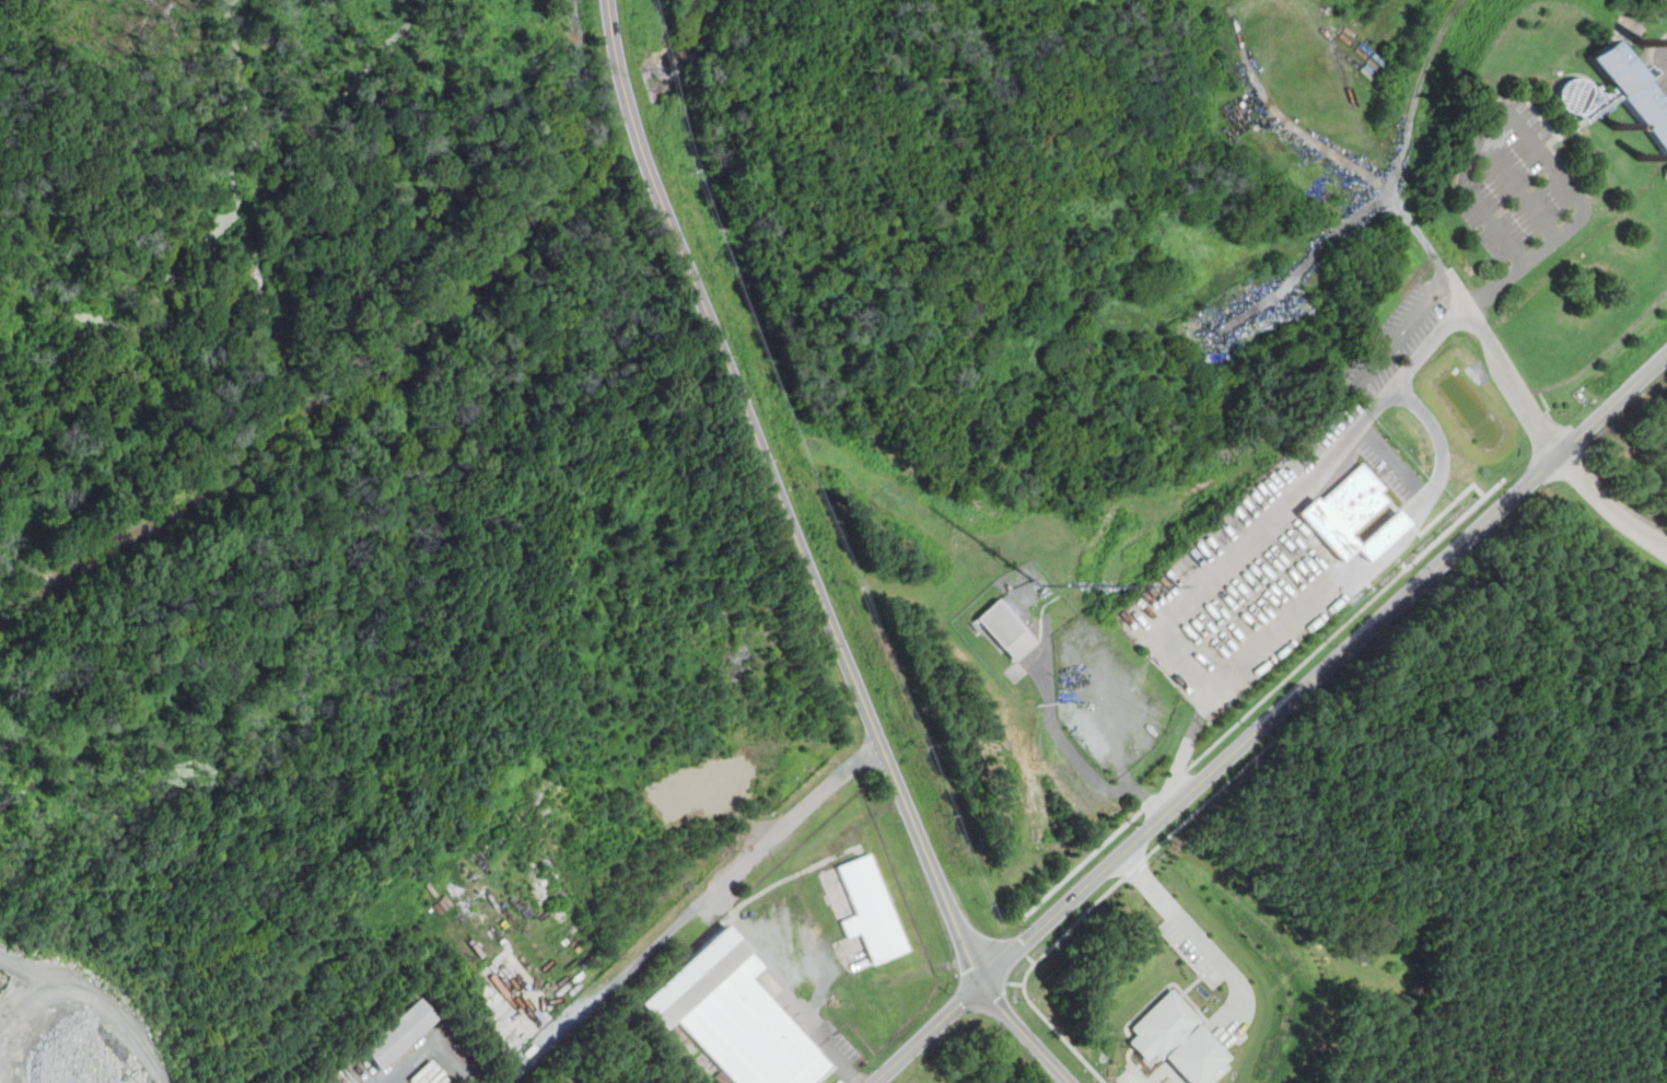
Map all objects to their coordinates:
chimney: (1643, 39)
river: (696, 48)
building: (1617, 93)
road: (1530, 140)
road: (1421, 236)
road: (781, 494)
road: (1609, 506)
building: (1343, 509)
road: (1237, 545)
building: (1004, 630)
road: (1325, 669)
road: (1267, 697)
road: (1057, 731)
road: (1120, 748)
road: (1151, 802)
road: (1161, 845)
road: (693, 910)
building: (871, 910)
road: (1201, 928)
road: (1024, 951)
road: (1031, 959)
road: (1001, 990)
road: (781, 992)
building: (734, 1015)
road: (1054, 1029)
building: (398, 1033)
road: (929, 1033)
road: (1025, 1034)
building: (1182, 1040)

